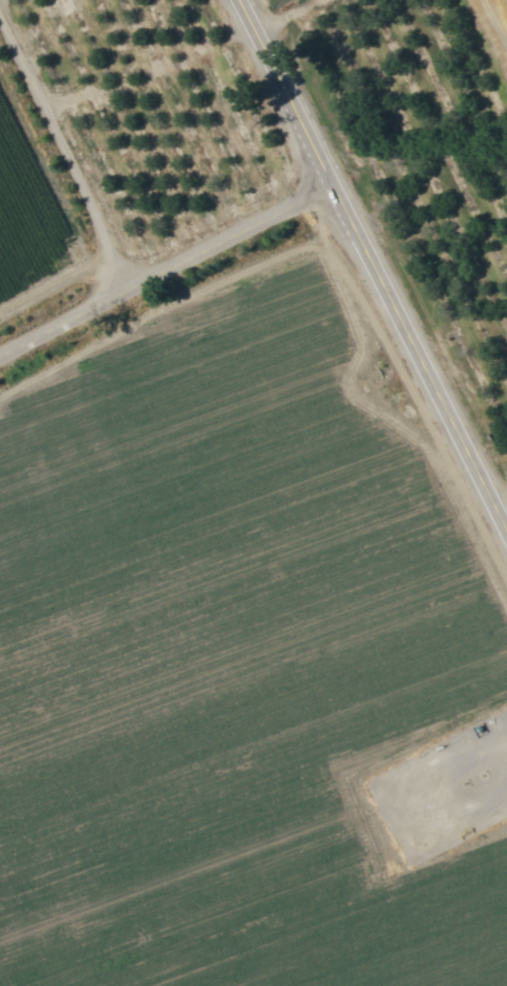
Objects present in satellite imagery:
road: (147, 63)
road: (76, 169)
road: (167, 265)
road: (375, 265)

